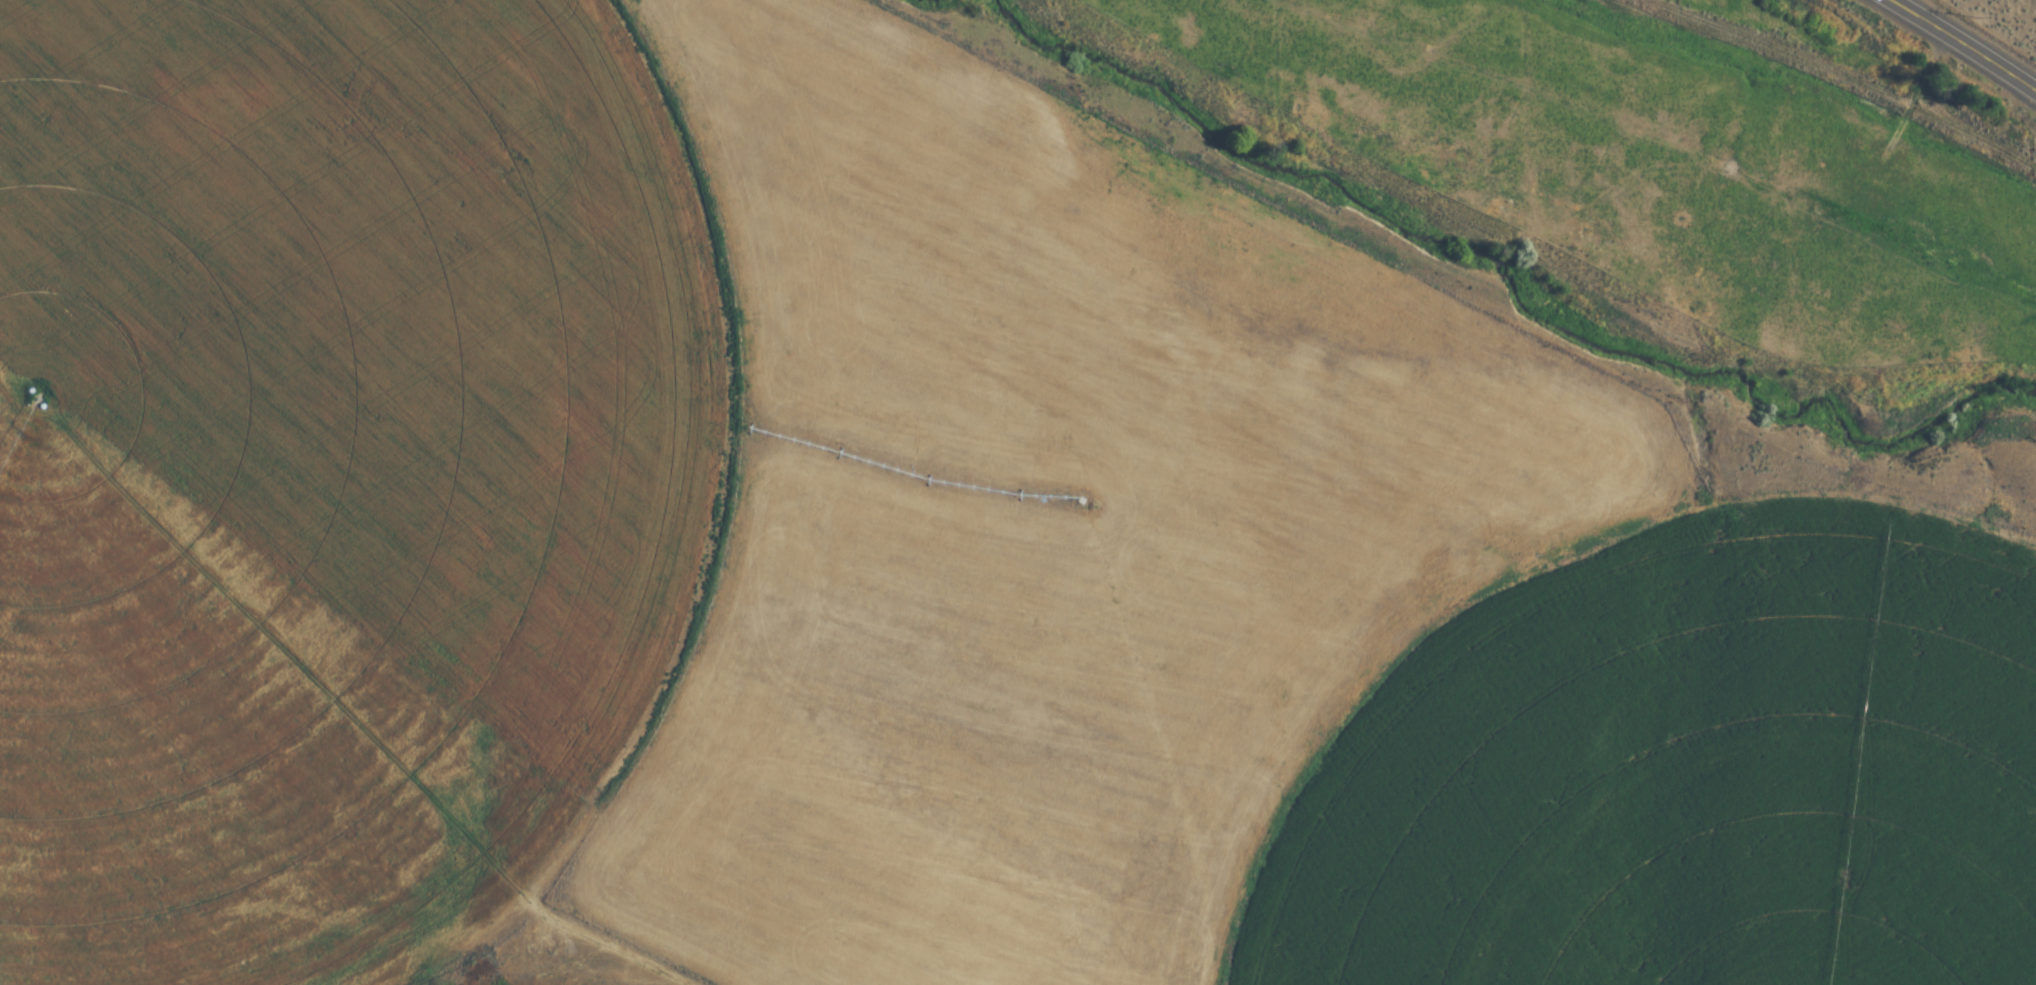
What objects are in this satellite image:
road: (1963, 42)

